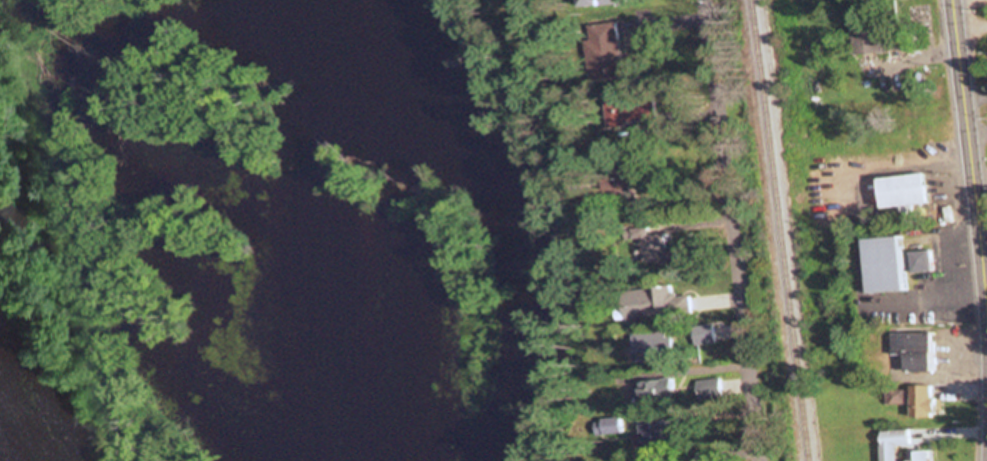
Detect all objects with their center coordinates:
building: (601, 2)
building: (876, 40)
building: (605, 47)
building: (631, 113)
road: (970, 161)
building: (899, 191)
road: (728, 230)
railway: (775, 230)
building: (657, 245)
building: (918, 261)
building: (879, 264)
building: (655, 303)
building: (702, 338)
building: (656, 345)
building: (912, 350)
building: (708, 390)
building: (656, 391)
building: (895, 398)
building: (918, 401)
building: (653, 434)
building: (890, 443)
building: (915, 456)
building: (689, 460)

